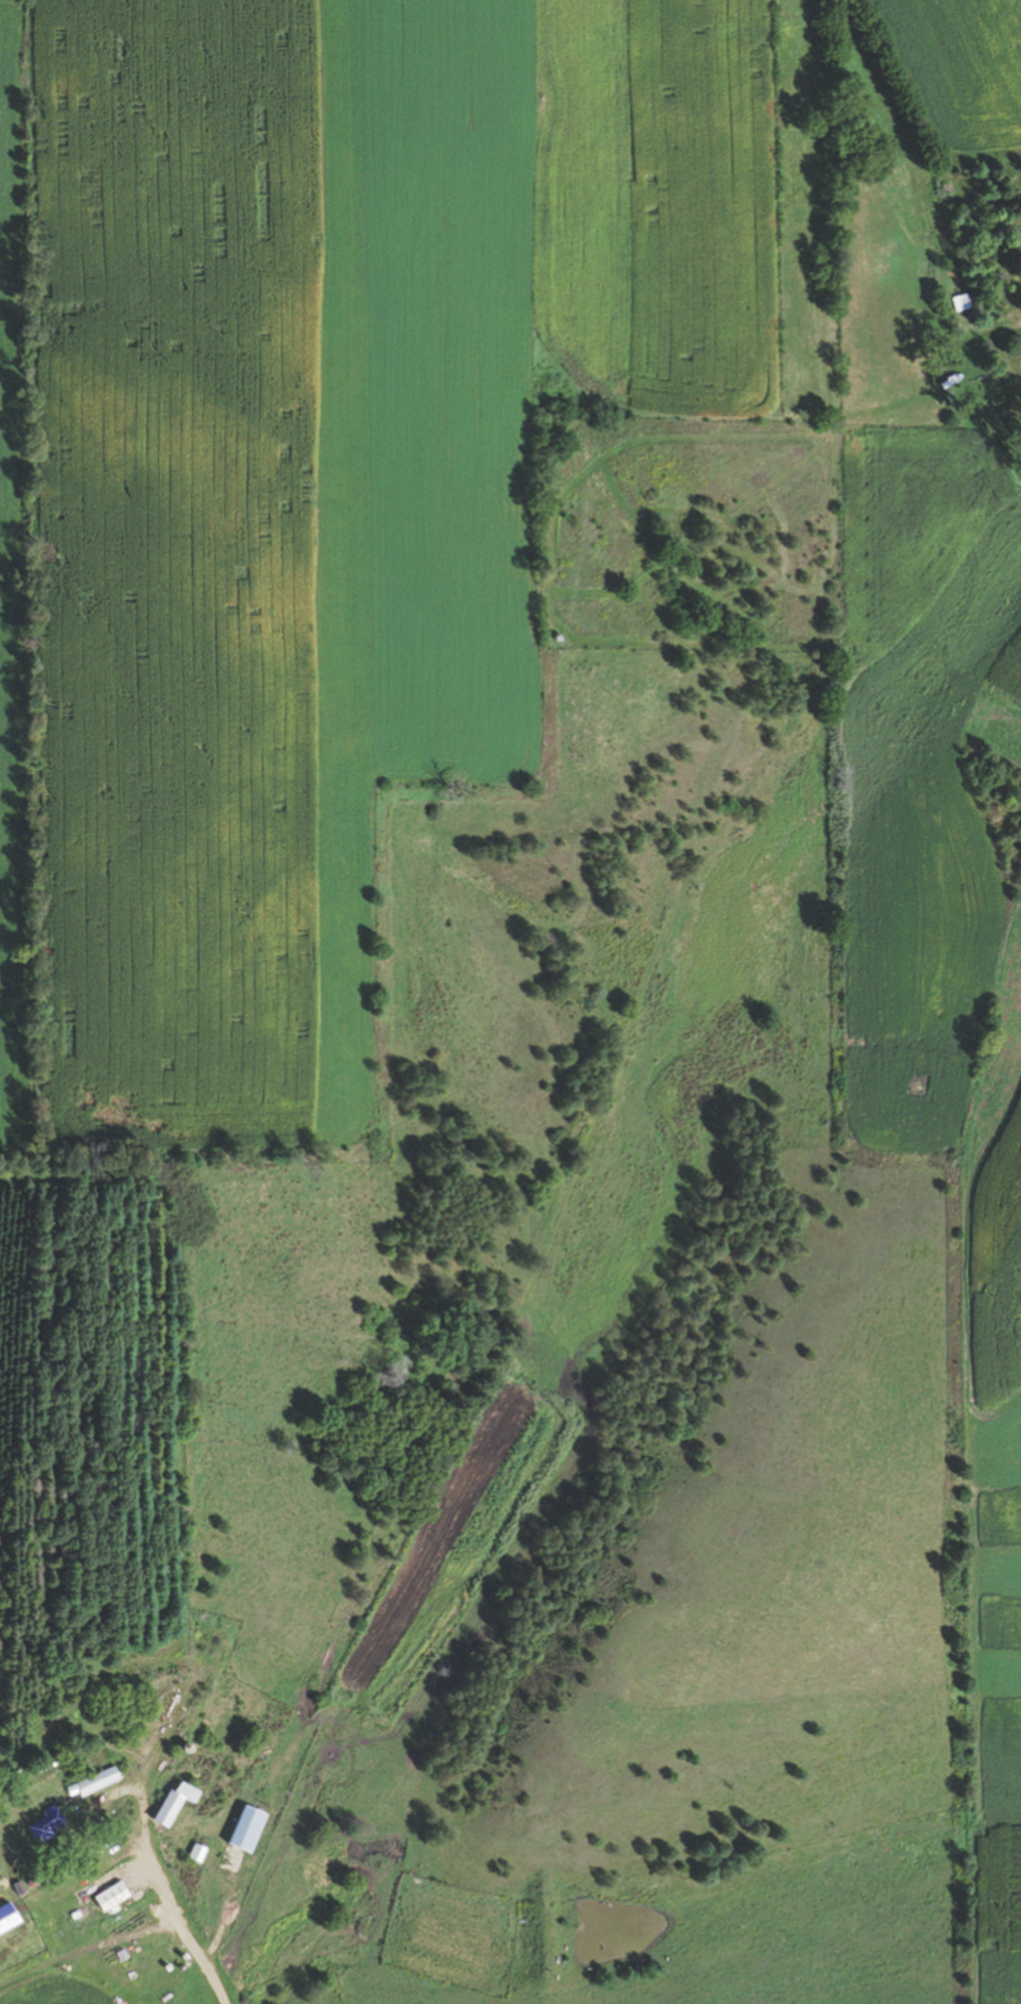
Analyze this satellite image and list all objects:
building: (95, 1784)
building: (179, 1805)
building: (49, 1826)
building: (200, 1855)
building: (115, 1895)
road: (156, 1906)
building: (9, 1916)

